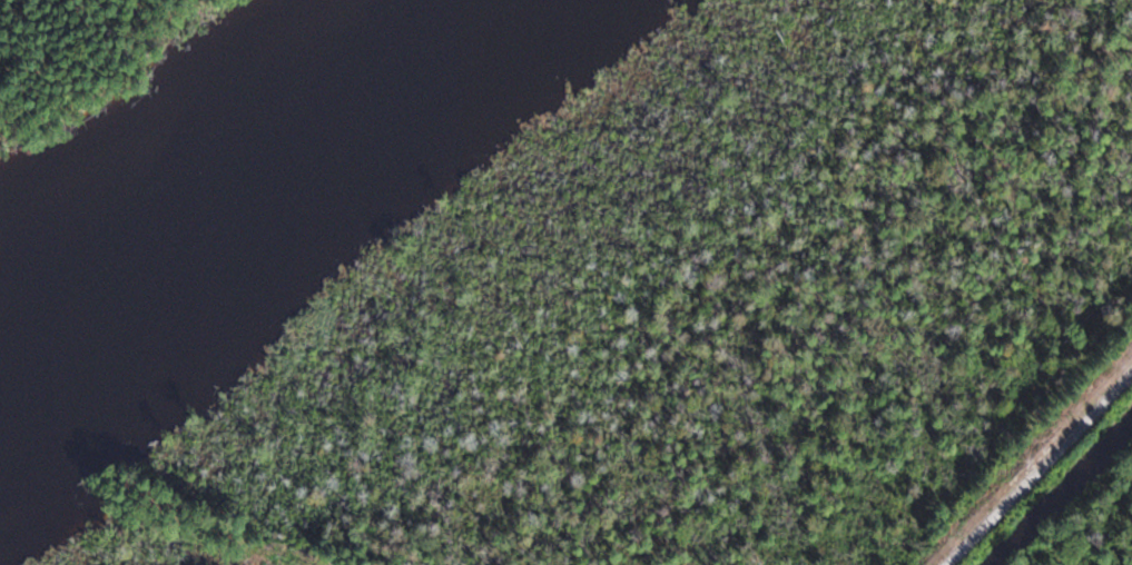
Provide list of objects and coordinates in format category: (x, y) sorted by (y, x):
road: (1039, 469)

